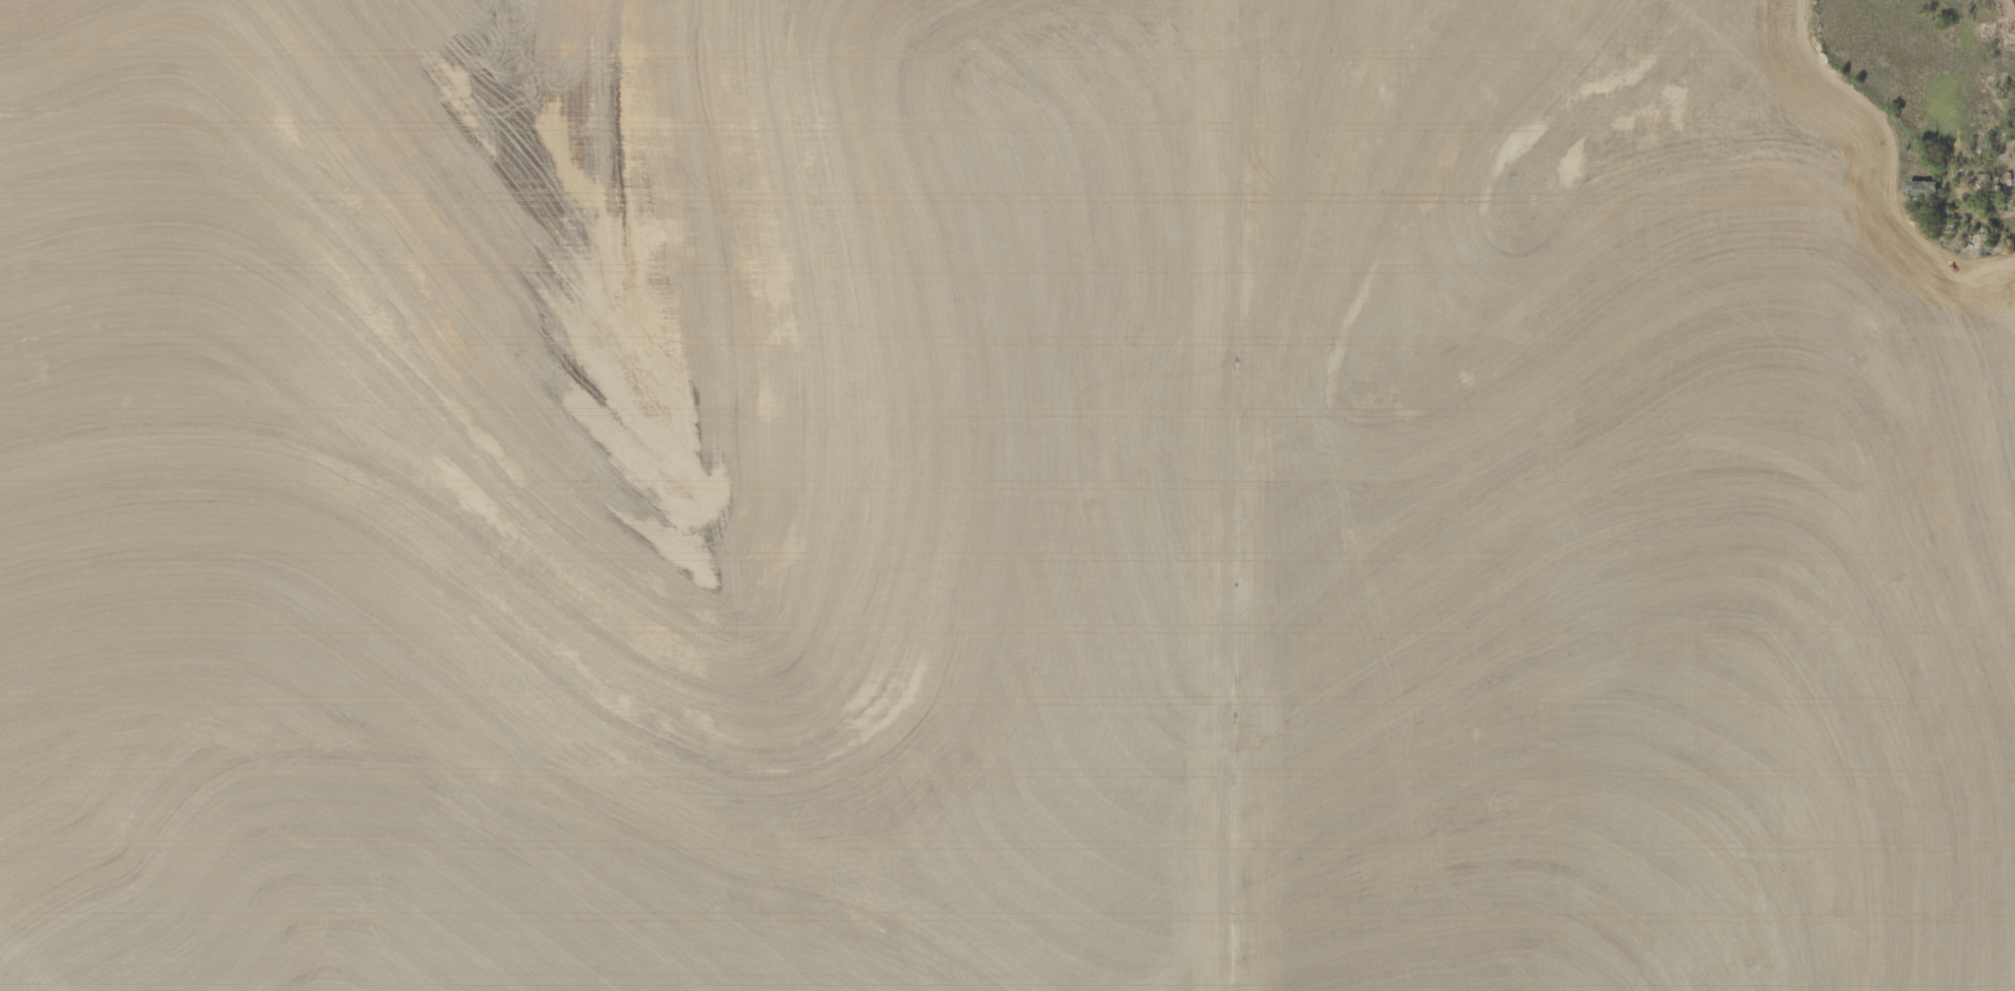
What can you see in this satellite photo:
building: (1922, 188)

